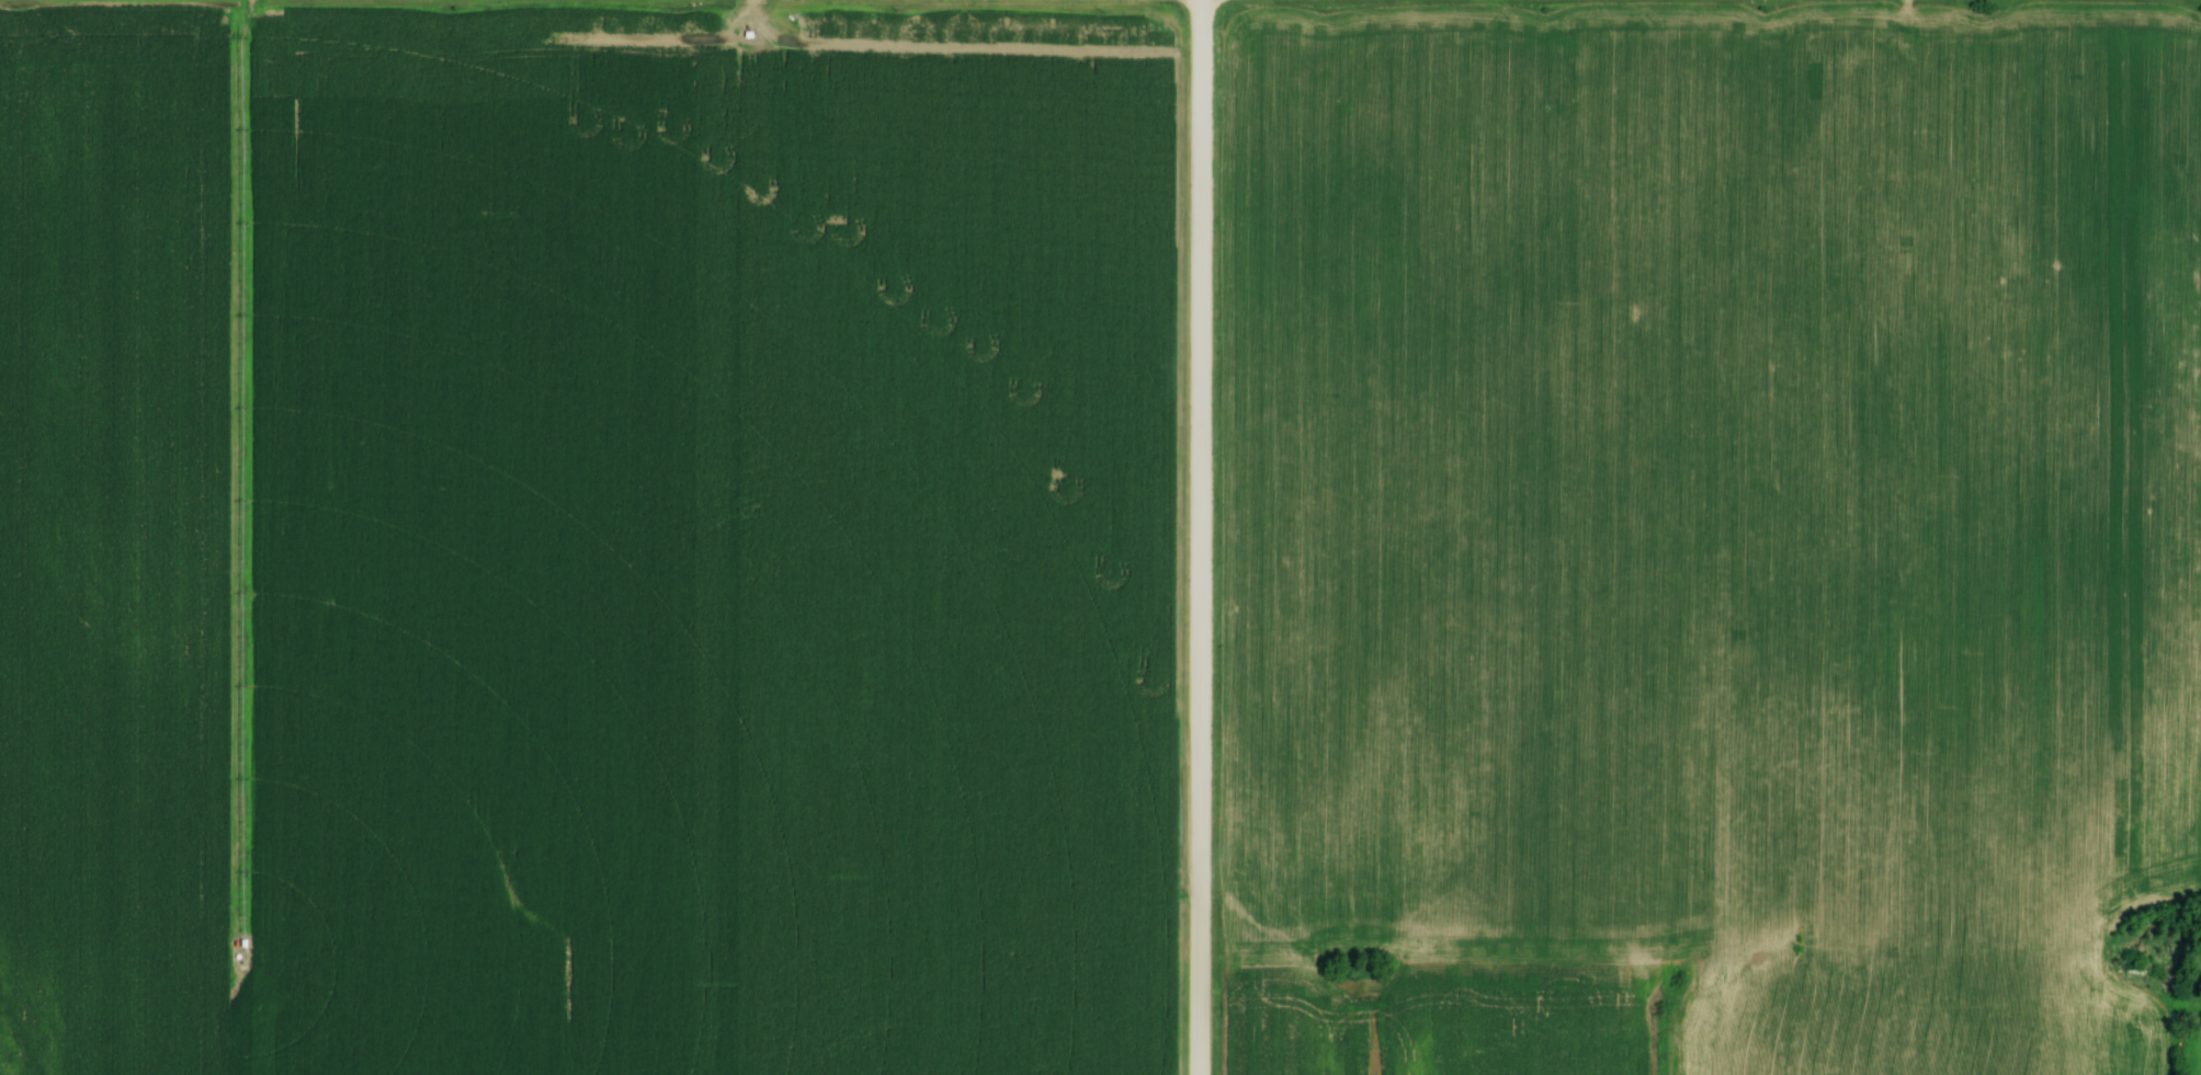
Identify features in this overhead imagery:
road: (1201, 537)

